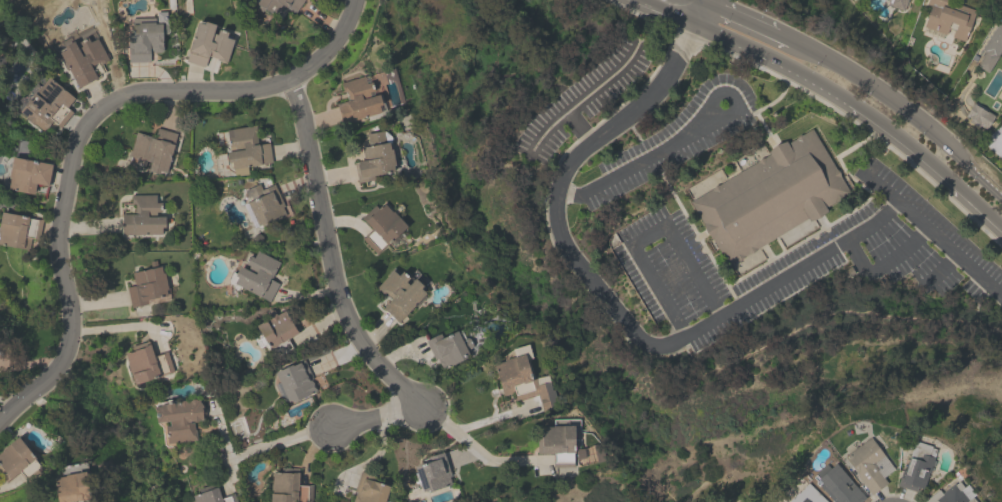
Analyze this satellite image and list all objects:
road: (700, 0)
building: (897, 4)
building: (278, 6)
road: (669, 10)
road: (697, 10)
building: (948, 17)
building: (144, 38)
building: (208, 44)
building: (991, 47)
building: (82, 59)
road: (864, 80)
road: (586, 96)
building: (357, 99)
building: (46, 104)
road: (856, 111)
road: (84, 127)
road: (548, 132)
building: (997, 143)
building: (152, 149)
building: (245, 149)
building: (374, 158)
road: (644, 161)
building: (27, 174)
building: (770, 197)
building: (263, 205)
building: (143, 216)
building: (381, 224)
building: (15, 228)
road: (647, 232)
road: (887, 258)
building: (255, 275)
building: (146, 284)
road: (309, 292)
building: (399, 293)
road: (350, 321)
road: (117, 326)
building: (275, 328)
road: (657, 346)
building: (446, 348)
road: (31, 362)
building: (146, 362)
building: (522, 378)
building: (293, 381)
road: (7, 400)
road: (377, 416)
road: (483, 418)
building: (178, 420)
road: (277, 440)
building: (560, 442)
road: (223, 447)
road: (311, 448)
road: (377, 451)
building: (16, 459)
building: (868, 464)
building: (916, 466)
building: (432, 471)
building: (71, 484)
building: (836, 484)
building: (288, 487)
building: (368, 489)
building: (953, 494)
building: (212, 495)
building: (806, 495)

